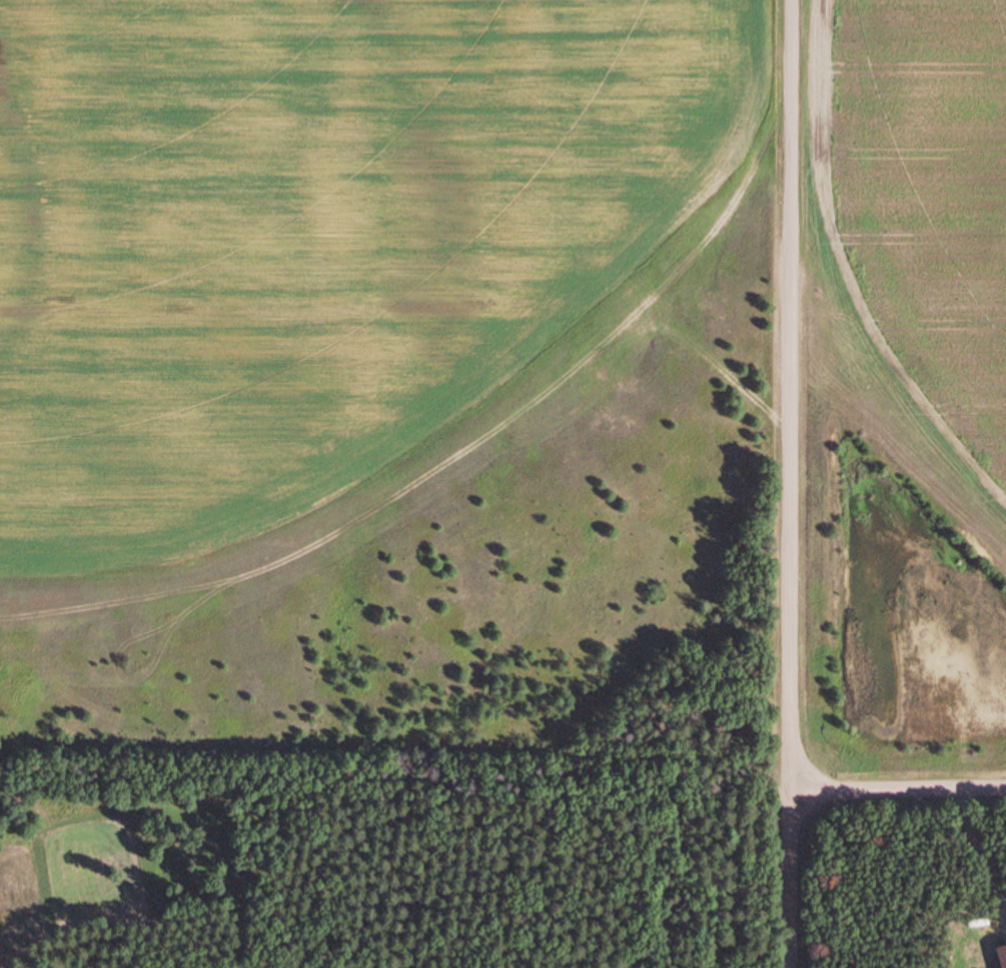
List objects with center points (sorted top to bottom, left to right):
crop: (369, 356)
crop: (913, 372)
road: (791, 483)
road: (898, 790)

